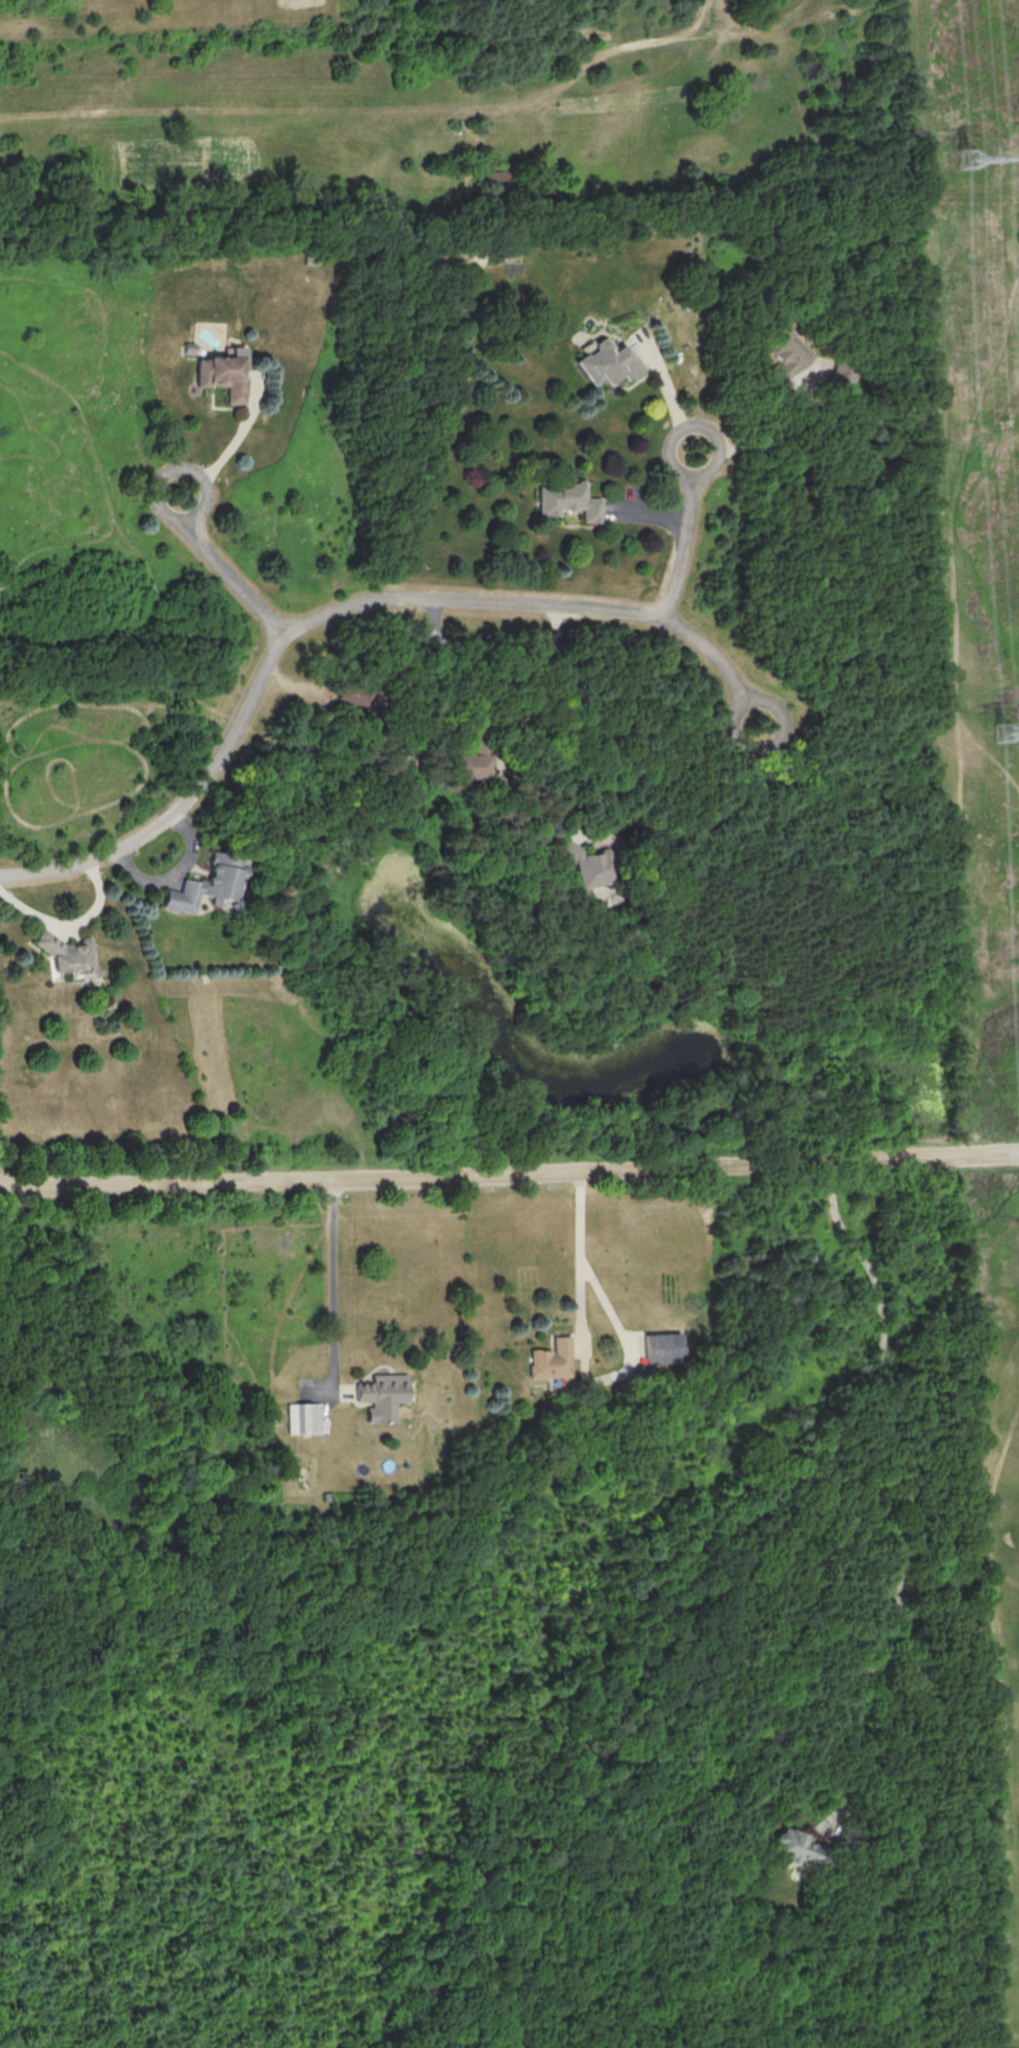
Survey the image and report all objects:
power tower: (970, 160)
building: (498, 178)
building: (786, 351)
building: (608, 362)
building: (225, 374)
building: (841, 378)
road: (668, 391)
road: (771, 435)
road: (231, 448)
building: (568, 500)
road: (685, 536)
road: (224, 570)
road: (347, 610)
road: (453, 668)
building: (350, 694)
road: (557, 716)
power tower: (1003, 732)
building: (471, 767)
building: (588, 864)
road: (176, 874)
building: (210, 884)
road: (69, 924)
building: (66, 952)
road: (509, 1175)
road: (850, 1237)
road: (579, 1263)
road: (336, 1281)
road: (884, 1313)
building: (666, 1347)
building: (553, 1358)
building: (381, 1394)
building: (304, 1417)
road: (903, 1577)
building: (797, 1847)

